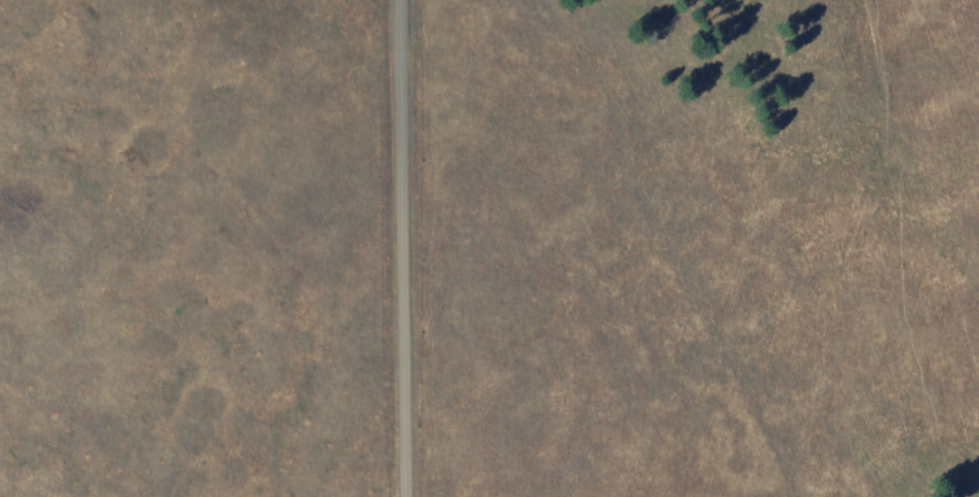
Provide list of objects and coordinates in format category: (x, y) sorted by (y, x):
road: (421, 247)

